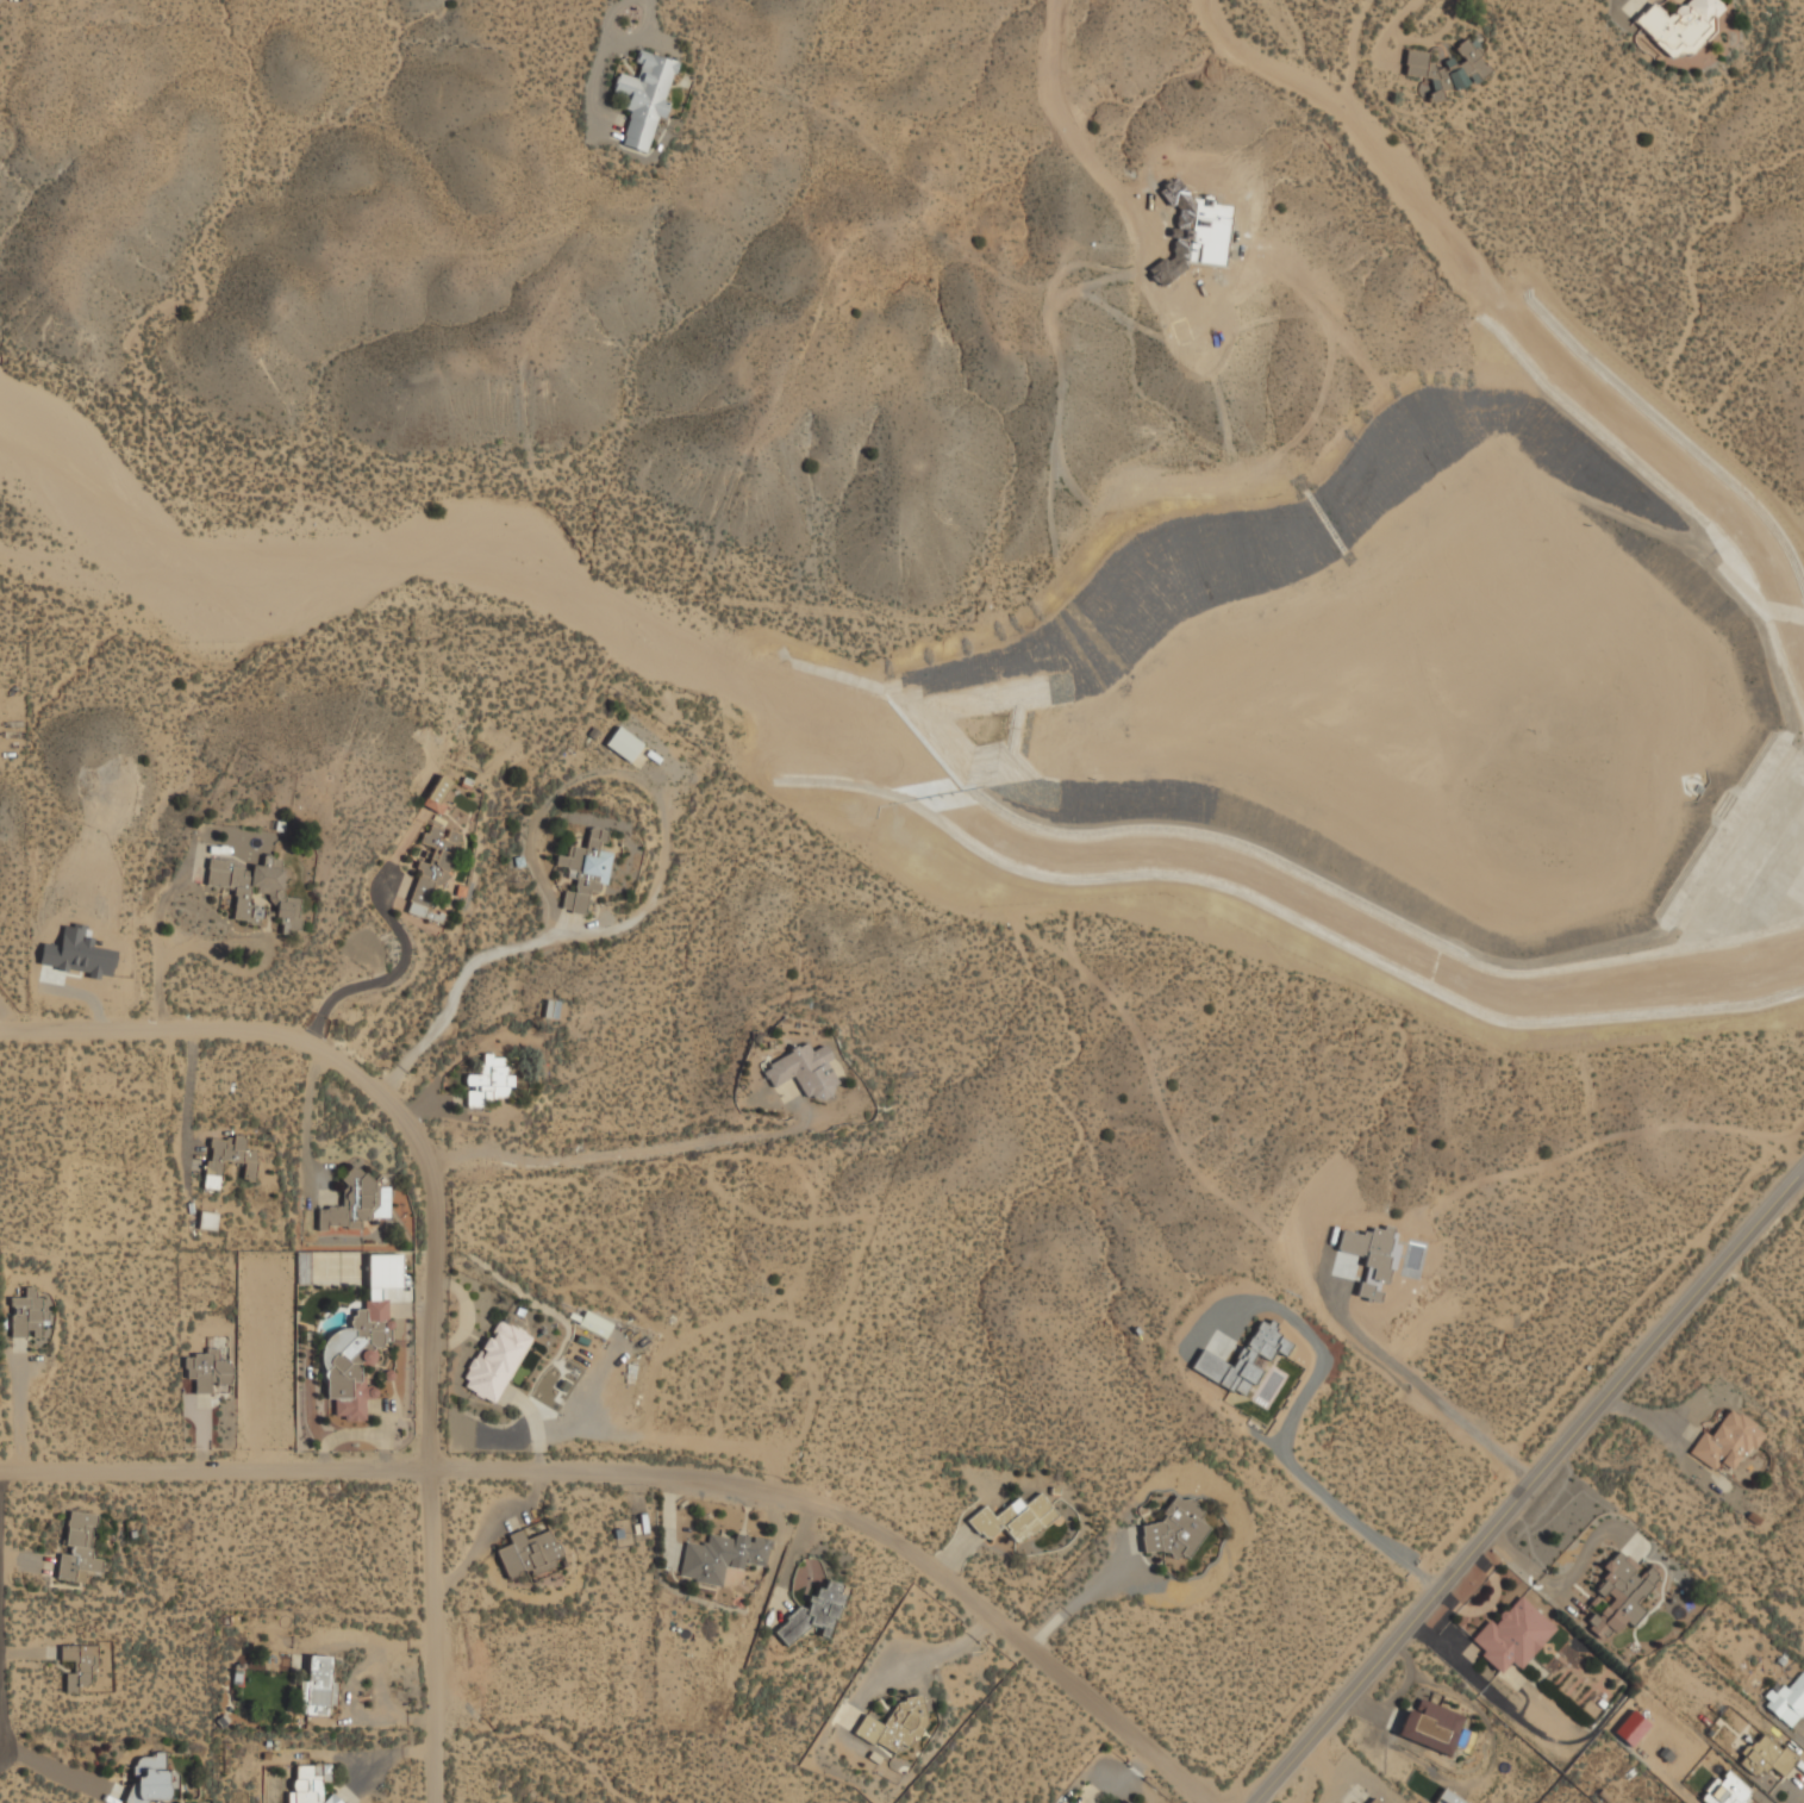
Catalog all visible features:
road: (641, 10)
building: (1680, 24)
building: (1448, 68)
building: (644, 95)
building: (624, 742)
building: (436, 794)
building: (586, 869)
building: (432, 873)
building: (280, 896)
road: (526, 941)
building: (804, 1069)
building: (488, 1080)
road: (607, 1154)
building: (227, 1158)
building: (352, 1202)
building: (208, 1219)
road: (432, 1241)
building: (27, 1312)
building: (594, 1324)
building: (354, 1355)
building: (495, 1360)
building: (1240, 1360)
building: (208, 1371)
road: (1286, 1433)
building: (1728, 1440)
road: (655, 1470)
road: (1531, 1484)
building: (1015, 1517)
building: (1174, 1527)
building: (77, 1549)
building: (528, 1553)
building: (720, 1556)
building: (1621, 1595)
building: (812, 1614)
building: (1513, 1633)
building: (77, 1665)
building: (317, 1687)
building: (1787, 1699)
building: (894, 1726)
building: (1430, 1726)
road: (0, 1729)
building: (1766, 1755)
building: (151, 1780)
building: (311, 1784)
building: (1727, 1790)
building: (1449, 1797)
building: (1373, 1801)

